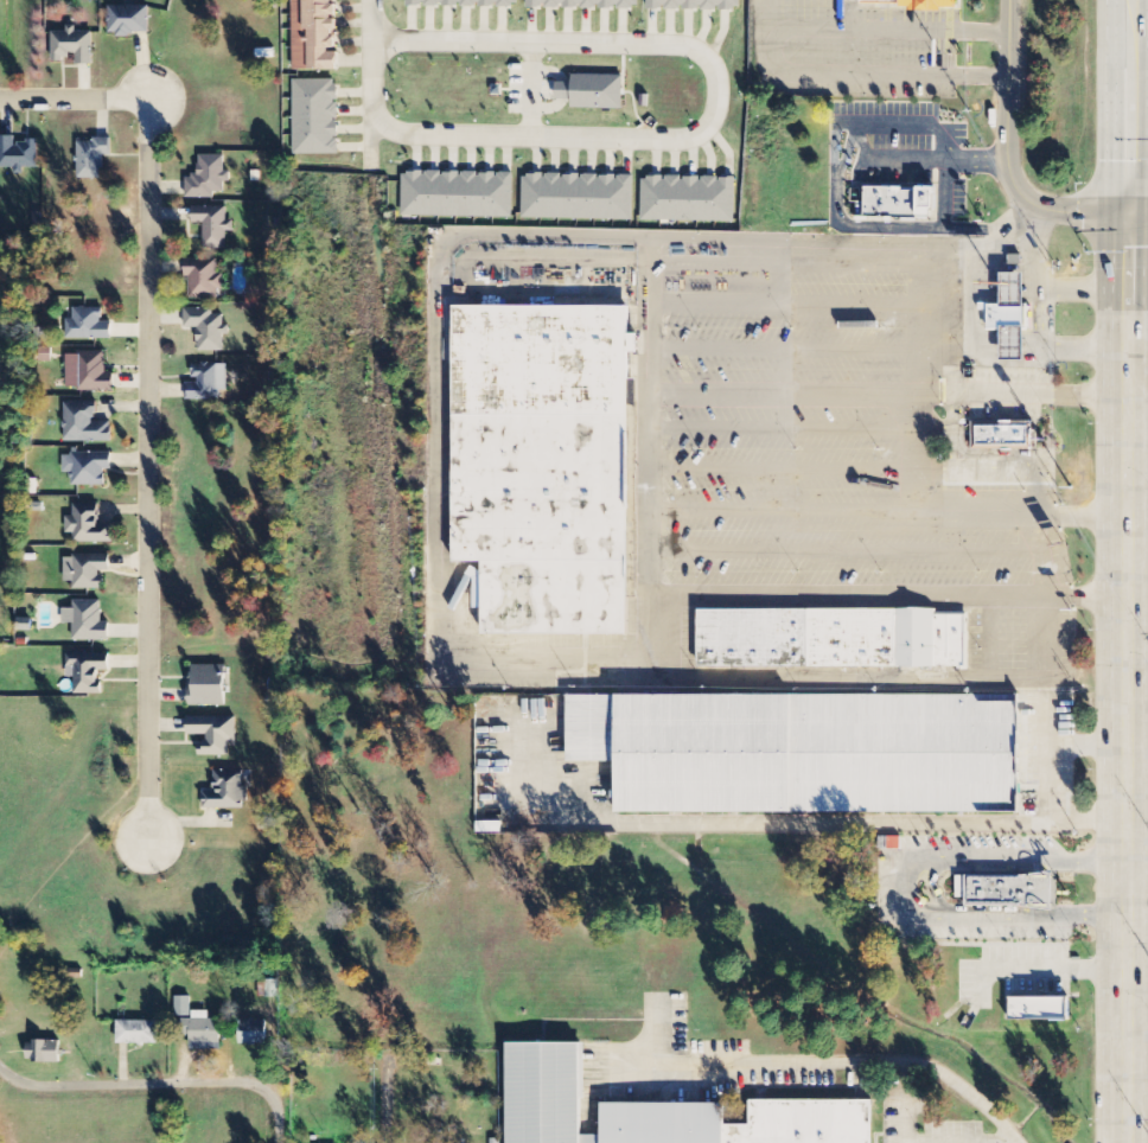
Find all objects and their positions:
building: (898, 1)
building: (463, 2)
building: (585, 4)
building: (694, 5)
building: (128, 21)
building: (313, 36)
building: (74, 46)
road: (374, 58)
road: (532, 91)
building: (593, 92)
road: (717, 95)
road: (1111, 107)
building: (314, 119)
road: (374, 145)
road: (1010, 152)
building: (18, 154)
building: (91, 159)
building: (209, 179)
road: (1137, 189)
building: (458, 196)
building: (578, 198)
building: (688, 200)
building: (898, 204)
traffic signals: (1127, 211)
road: (1137, 211)
building: (213, 226)
building: (204, 280)
building: (1012, 318)
building: (88, 326)
building: (208, 330)
building: (88, 373)
building: (206, 383)
road: (147, 397)
building: (84, 424)
building: (1001, 433)
building: (544, 461)
building: (87, 468)
building: (88, 526)
building: (87, 571)
building: (87, 621)
building: (831, 637)
building: (87, 672)
road: (1124, 676)
building: (209, 685)
building: (213, 734)
building: (804, 751)
building: (227, 792)
road: (1136, 875)
road: (908, 888)
building: (1004, 889)
building: (183, 1007)
building: (1040, 1008)
building: (200, 1032)
building: (136, 1033)
building: (253, 1033)
building: (44, 1052)
road: (138, 1087)
road: (389, 1105)
building: (655, 1110)
road: (279, 1123)

